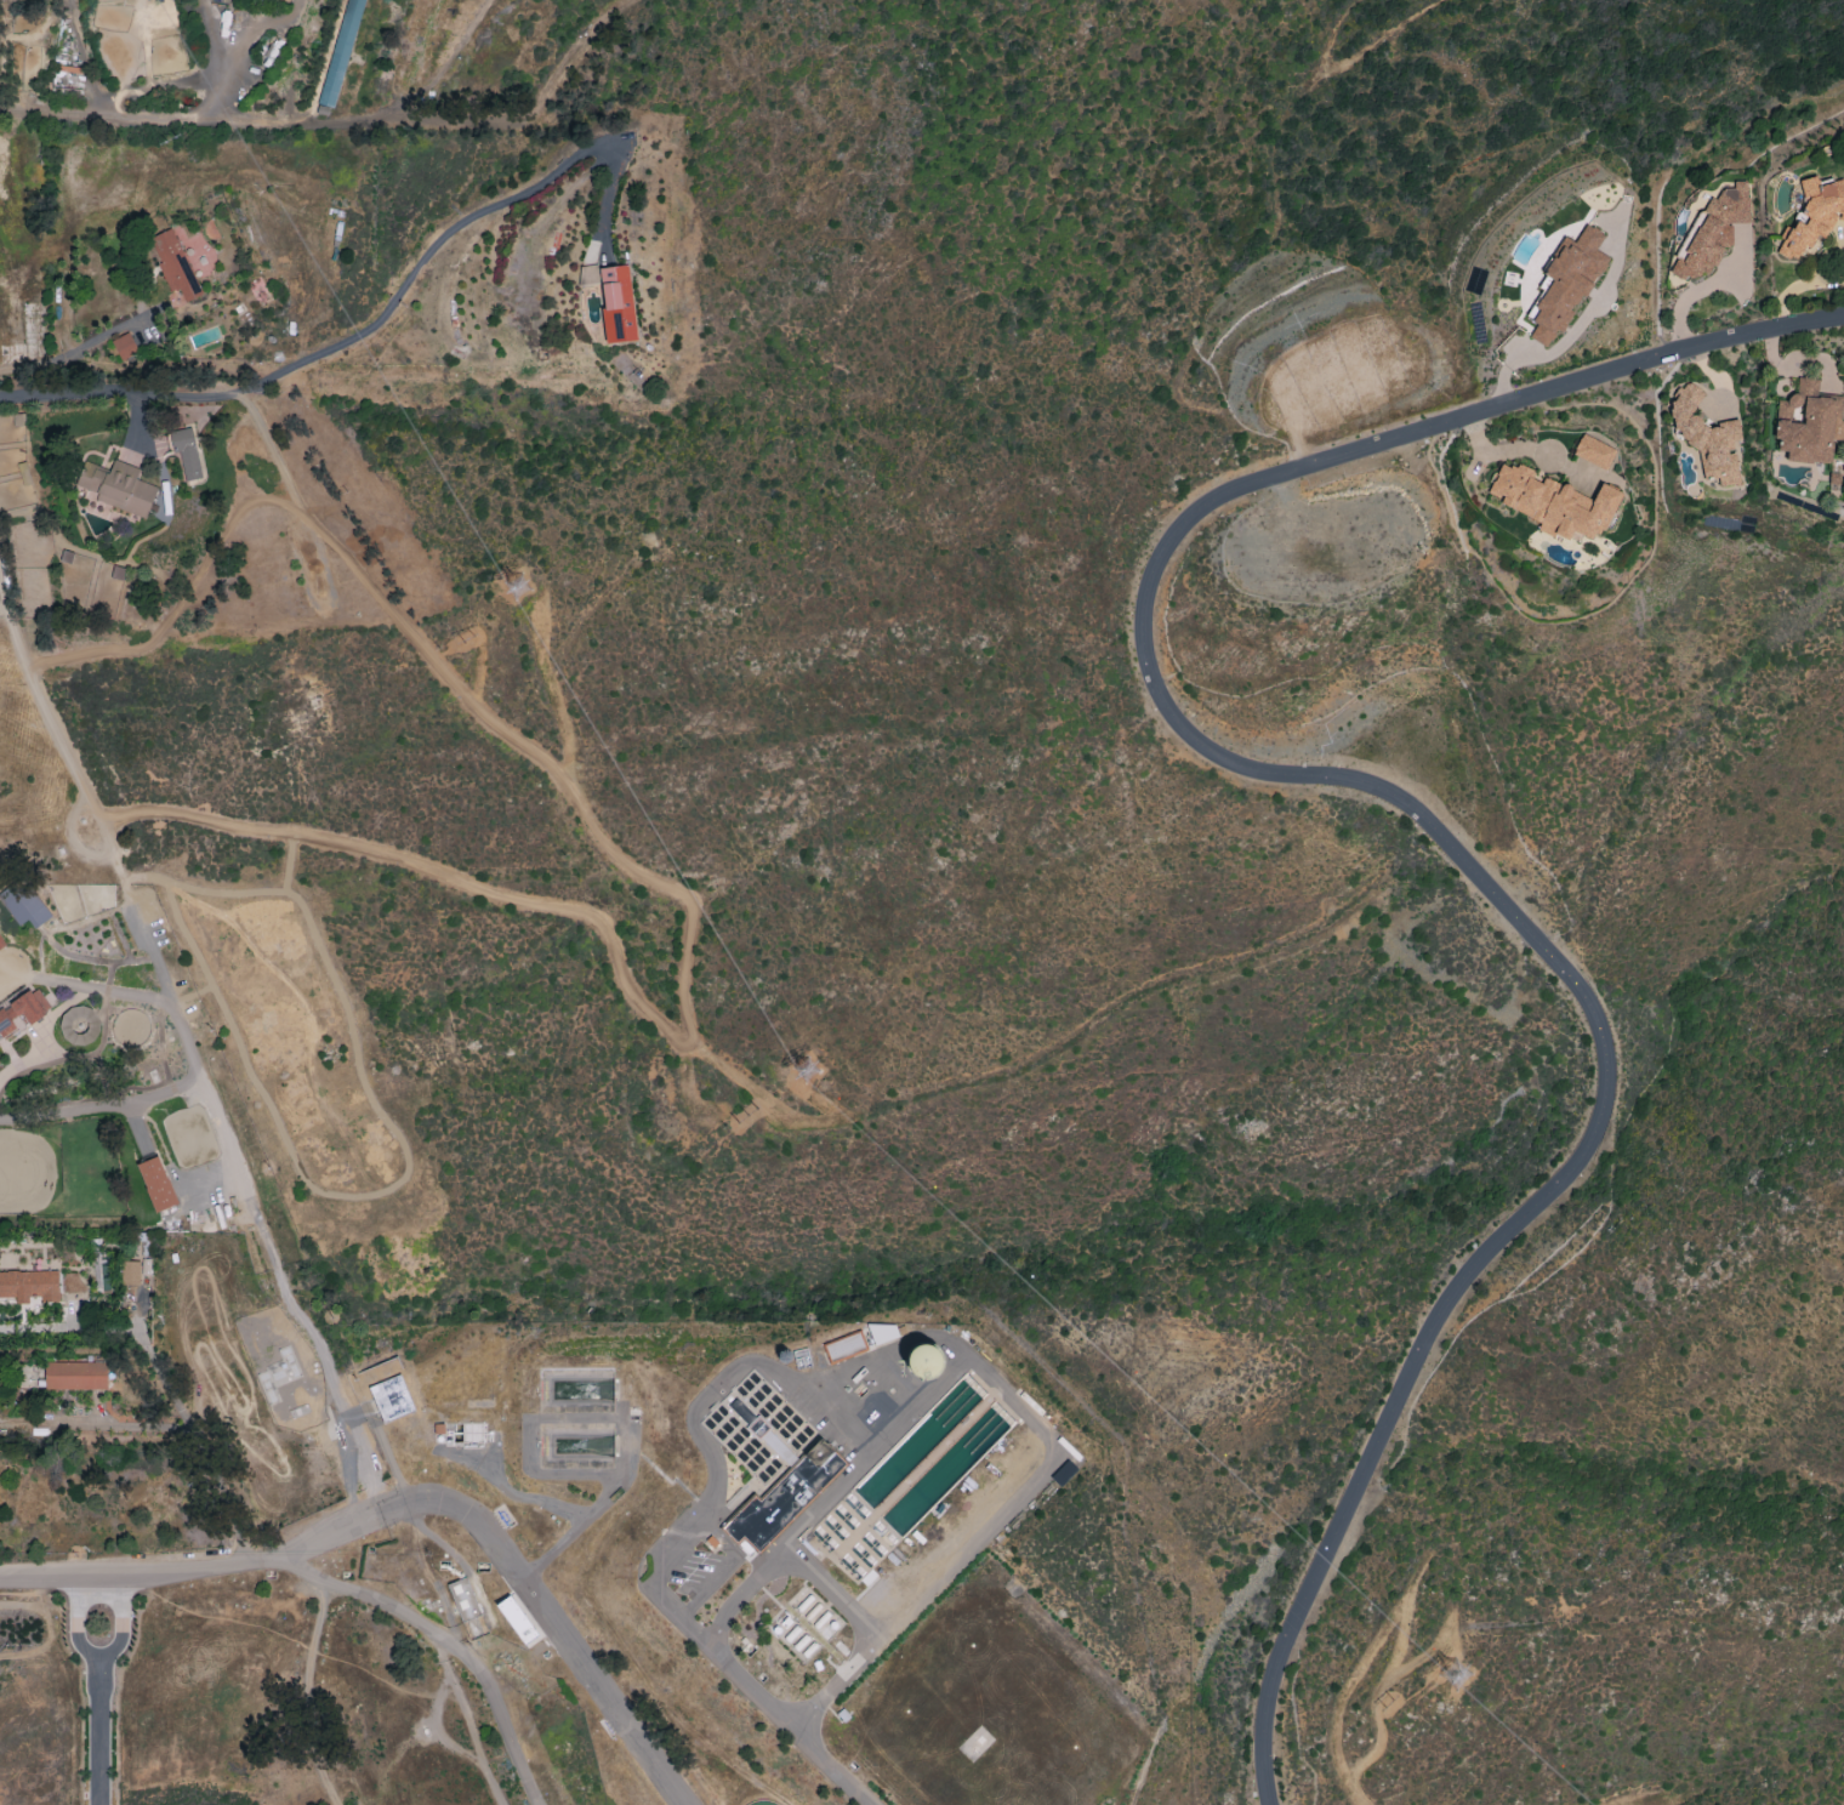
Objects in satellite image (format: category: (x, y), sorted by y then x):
building: (269, 0)
building: (336, 67)
road: (148, 114)
power tower: (170, 133)
building: (1814, 215)
building: (1712, 230)
road: (439, 238)
building: (176, 258)
building: (1566, 284)
building: (617, 303)
building: (124, 346)
road: (80, 348)
road: (96, 393)
road: (135, 422)
building: (1808, 422)
building: (1706, 437)
building: (1593, 451)
building: (187, 454)
building: (116, 486)
building: (1553, 502)
power tower: (518, 600)
power tower: (468, 643)
road: (1286, 771)
road: (70, 842)
road: (654, 878)
building: (23, 904)
building: (0, 945)
building: (22, 1010)
road: (190, 1043)
power tower: (830, 1089)
road: (66, 1112)
power tower: (744, 1116)
road: (149, 1148)
building: (156, 1183)
building: (130, 1272)
building: (29, 1286)
building: (881, 1332)
road: (915, 1337)
building: (844, 1346)
building: (923, 1361)
building: (75, 1374)
building: (391, 1397)
road: (838, 1414)
road: (155, 1418)
road: (203, 1445)
road: (872, 1447)
building: (1063, 1473)
building: (785, 1494)
road: (785, 1544)
road: (513, 1567)
road: (722, 1567)
road: (101, 1575)
building: (462, 1598)
road: (1401, 1602)
road: (419, 1619)
building: (518, 1619)
road: (78, 1621)
road: (121, 1622)
road: (1279, 1672)
power tower: (1457, 1680)
road: (307, 1695)
power tower: (1390, 1706)
road: (468, 1710)
road: (99, 1732)
road: (797, 1733)
road: (1355, 1790)
road: (1618, 1801)

